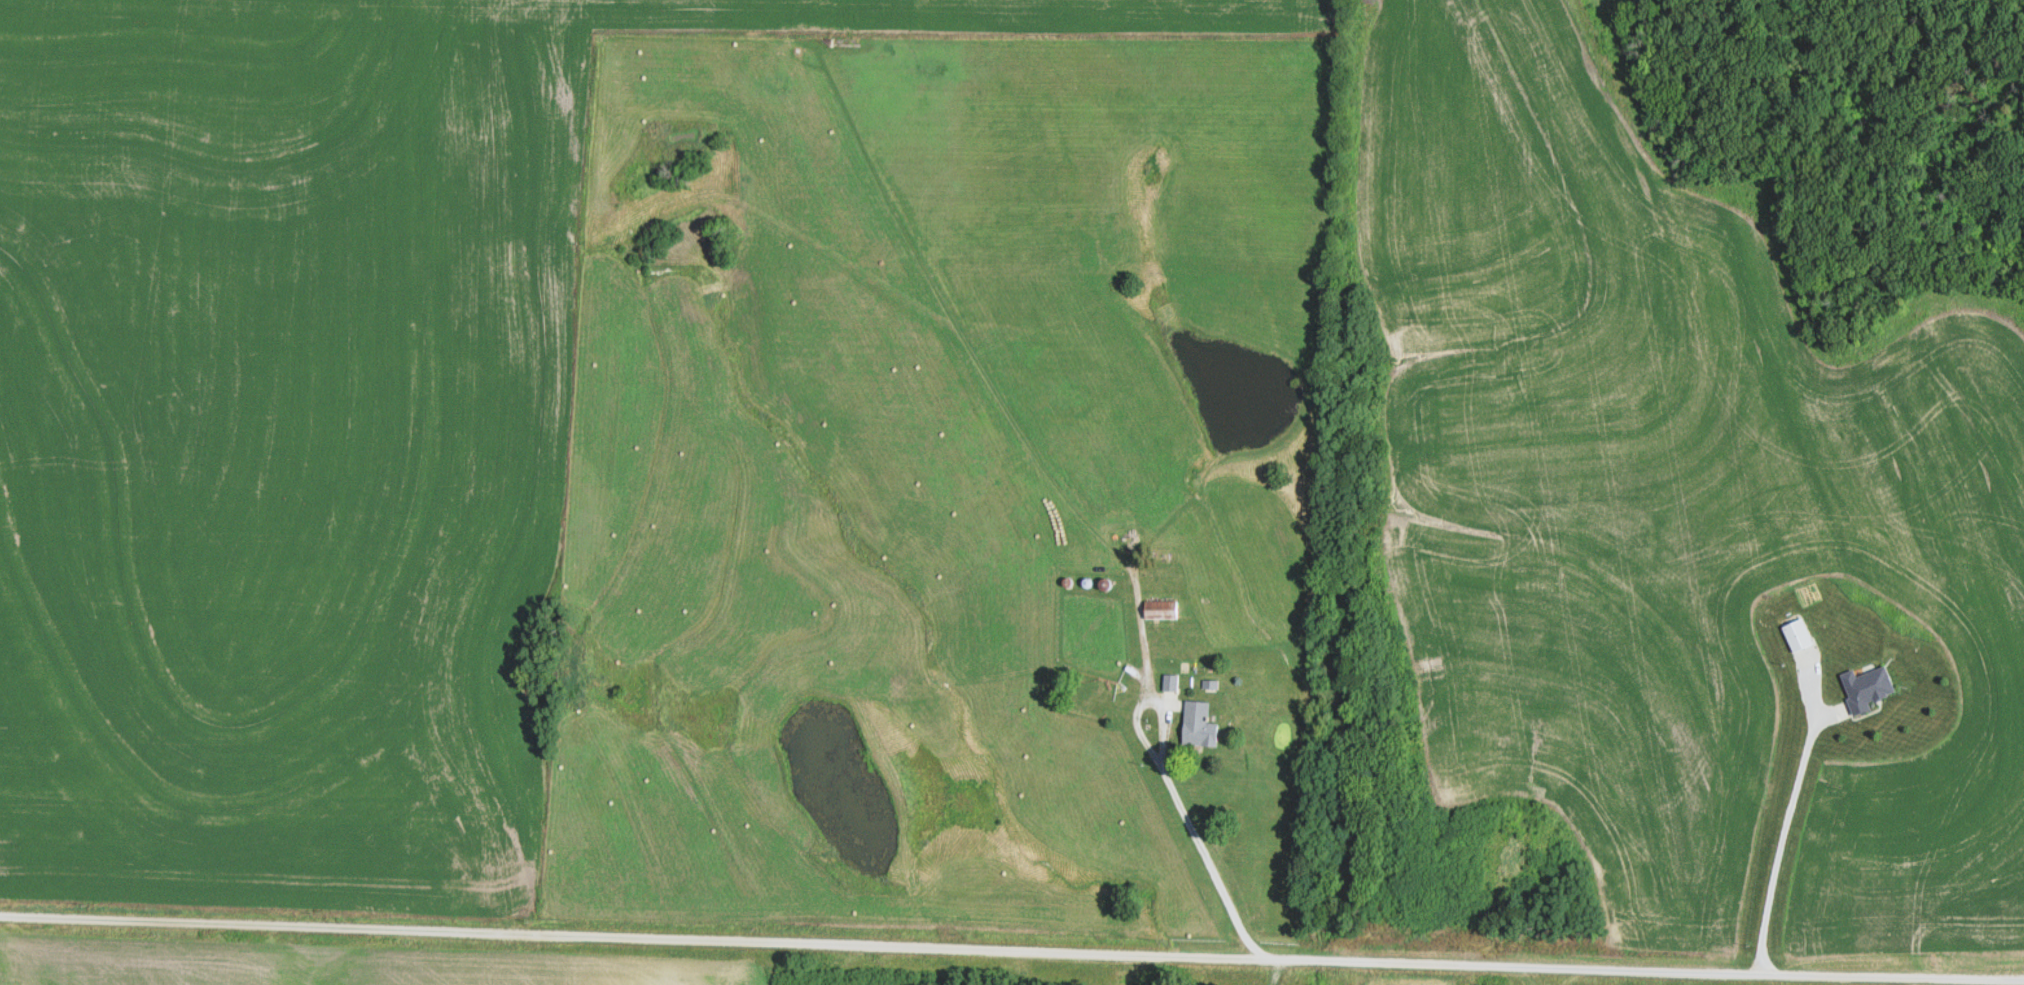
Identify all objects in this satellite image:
building: (1161, 610)
building: (1171, 683)
building: (1211, 685)
building: (1869, 688)
building: (1199, 726)
road: (1198, 842)
road: (1011, 948)

